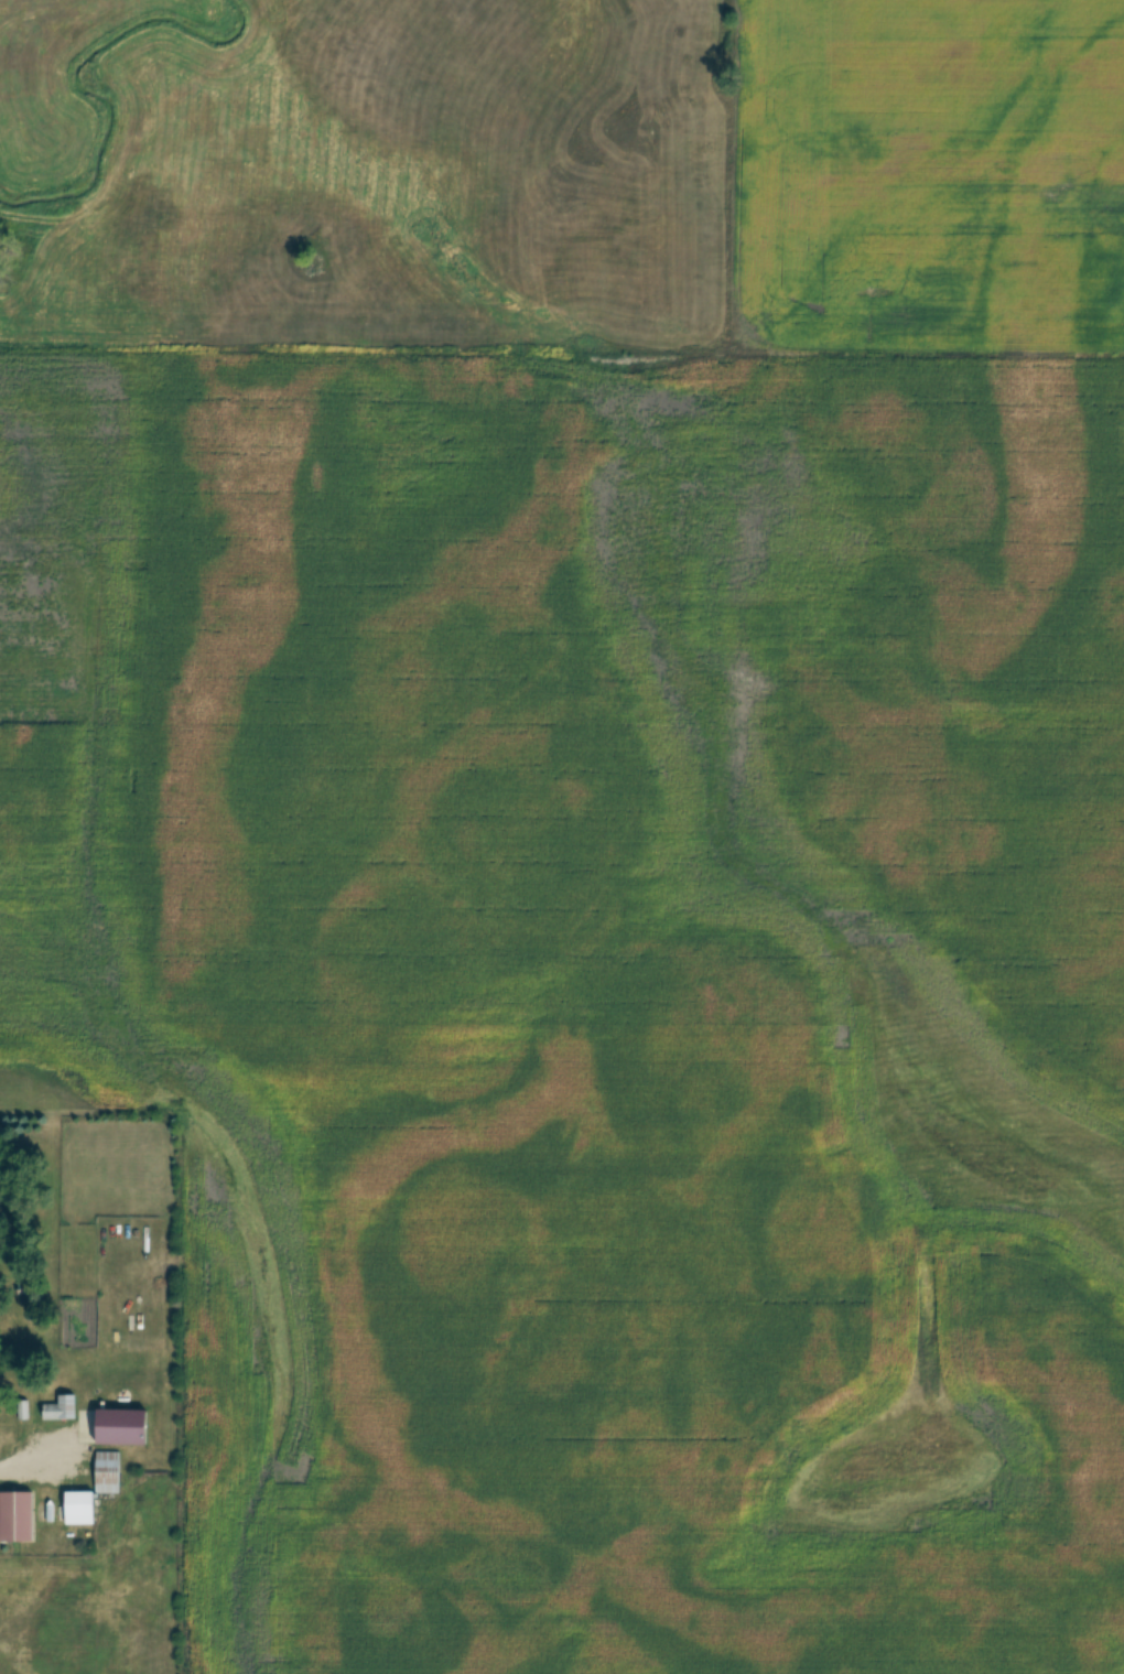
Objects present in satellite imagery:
building: (62, 1408)
building: (123, 1427)
building: (109, 1472)
building: (80, 1509)
building: (18, 1518)

